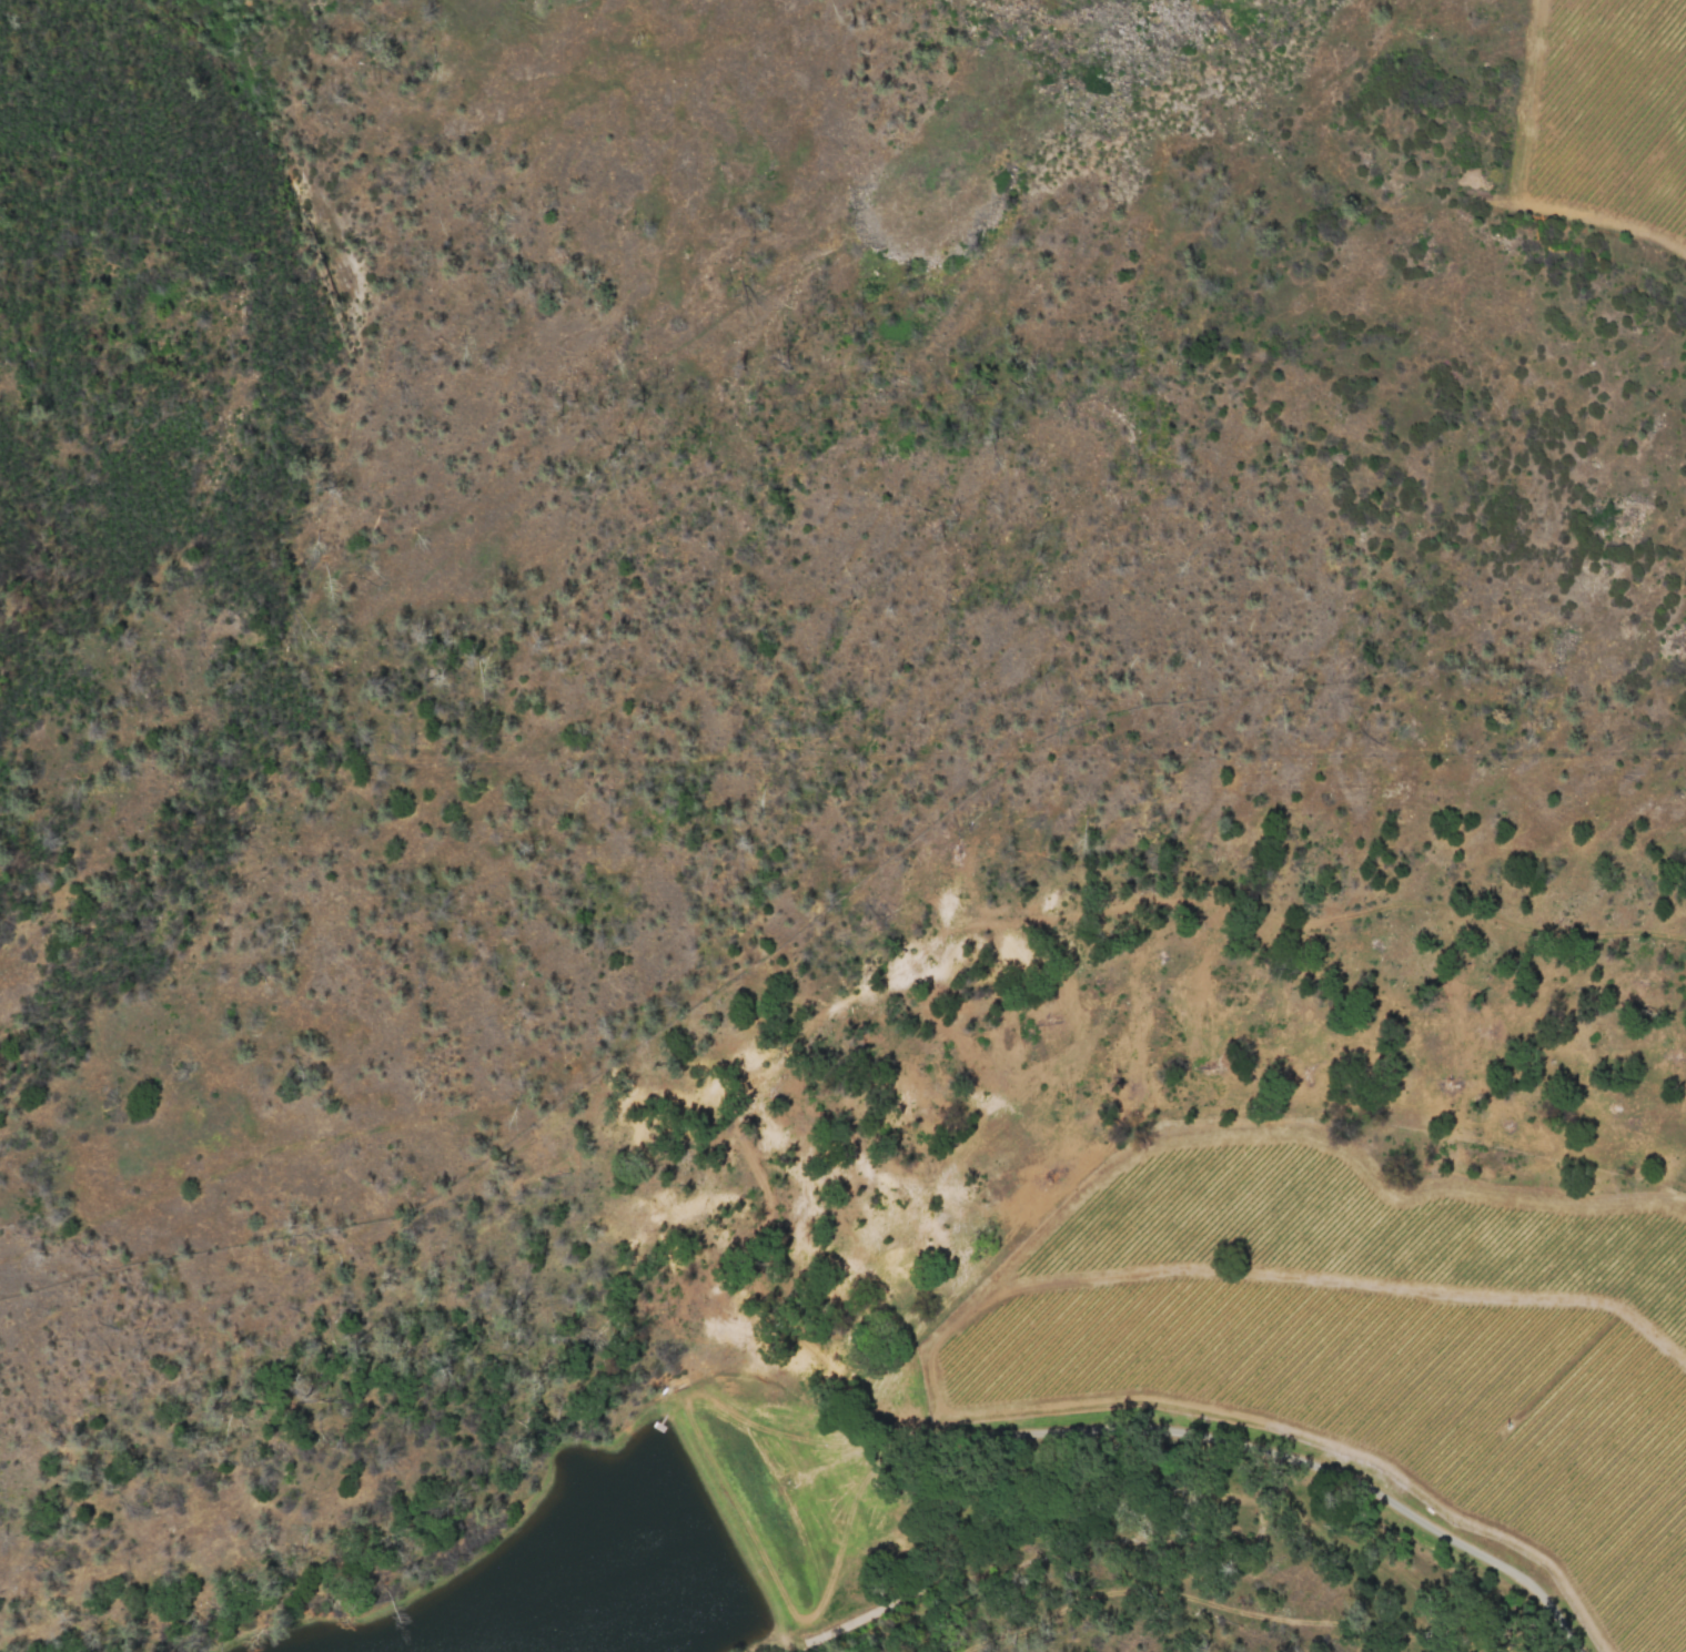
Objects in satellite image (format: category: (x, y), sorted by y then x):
dam: (730, 1521)

